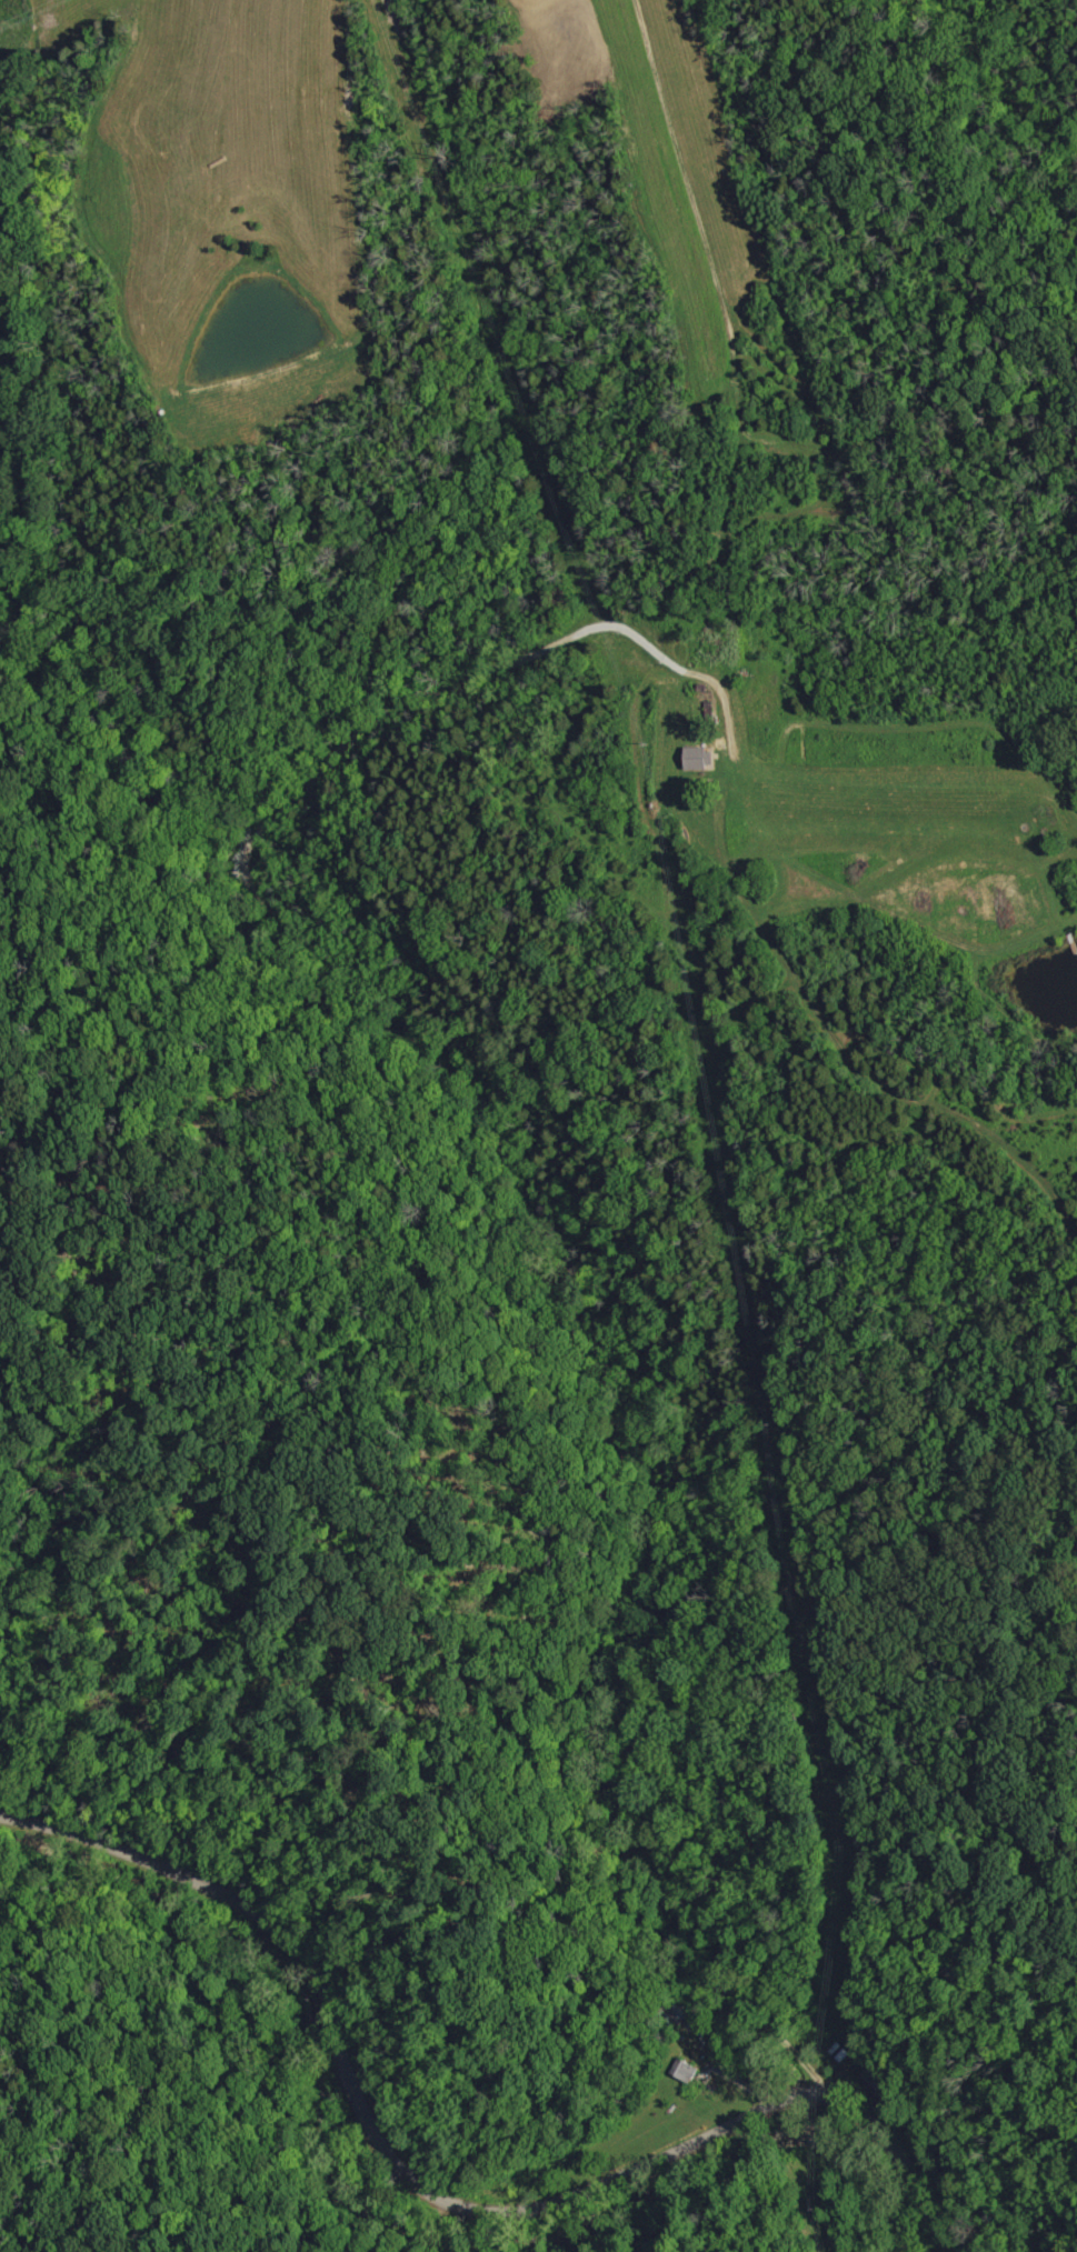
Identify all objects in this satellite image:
building: (698, 758)
building: (675, 2013)
building: (685, 2070)
road: (440, 2201)

